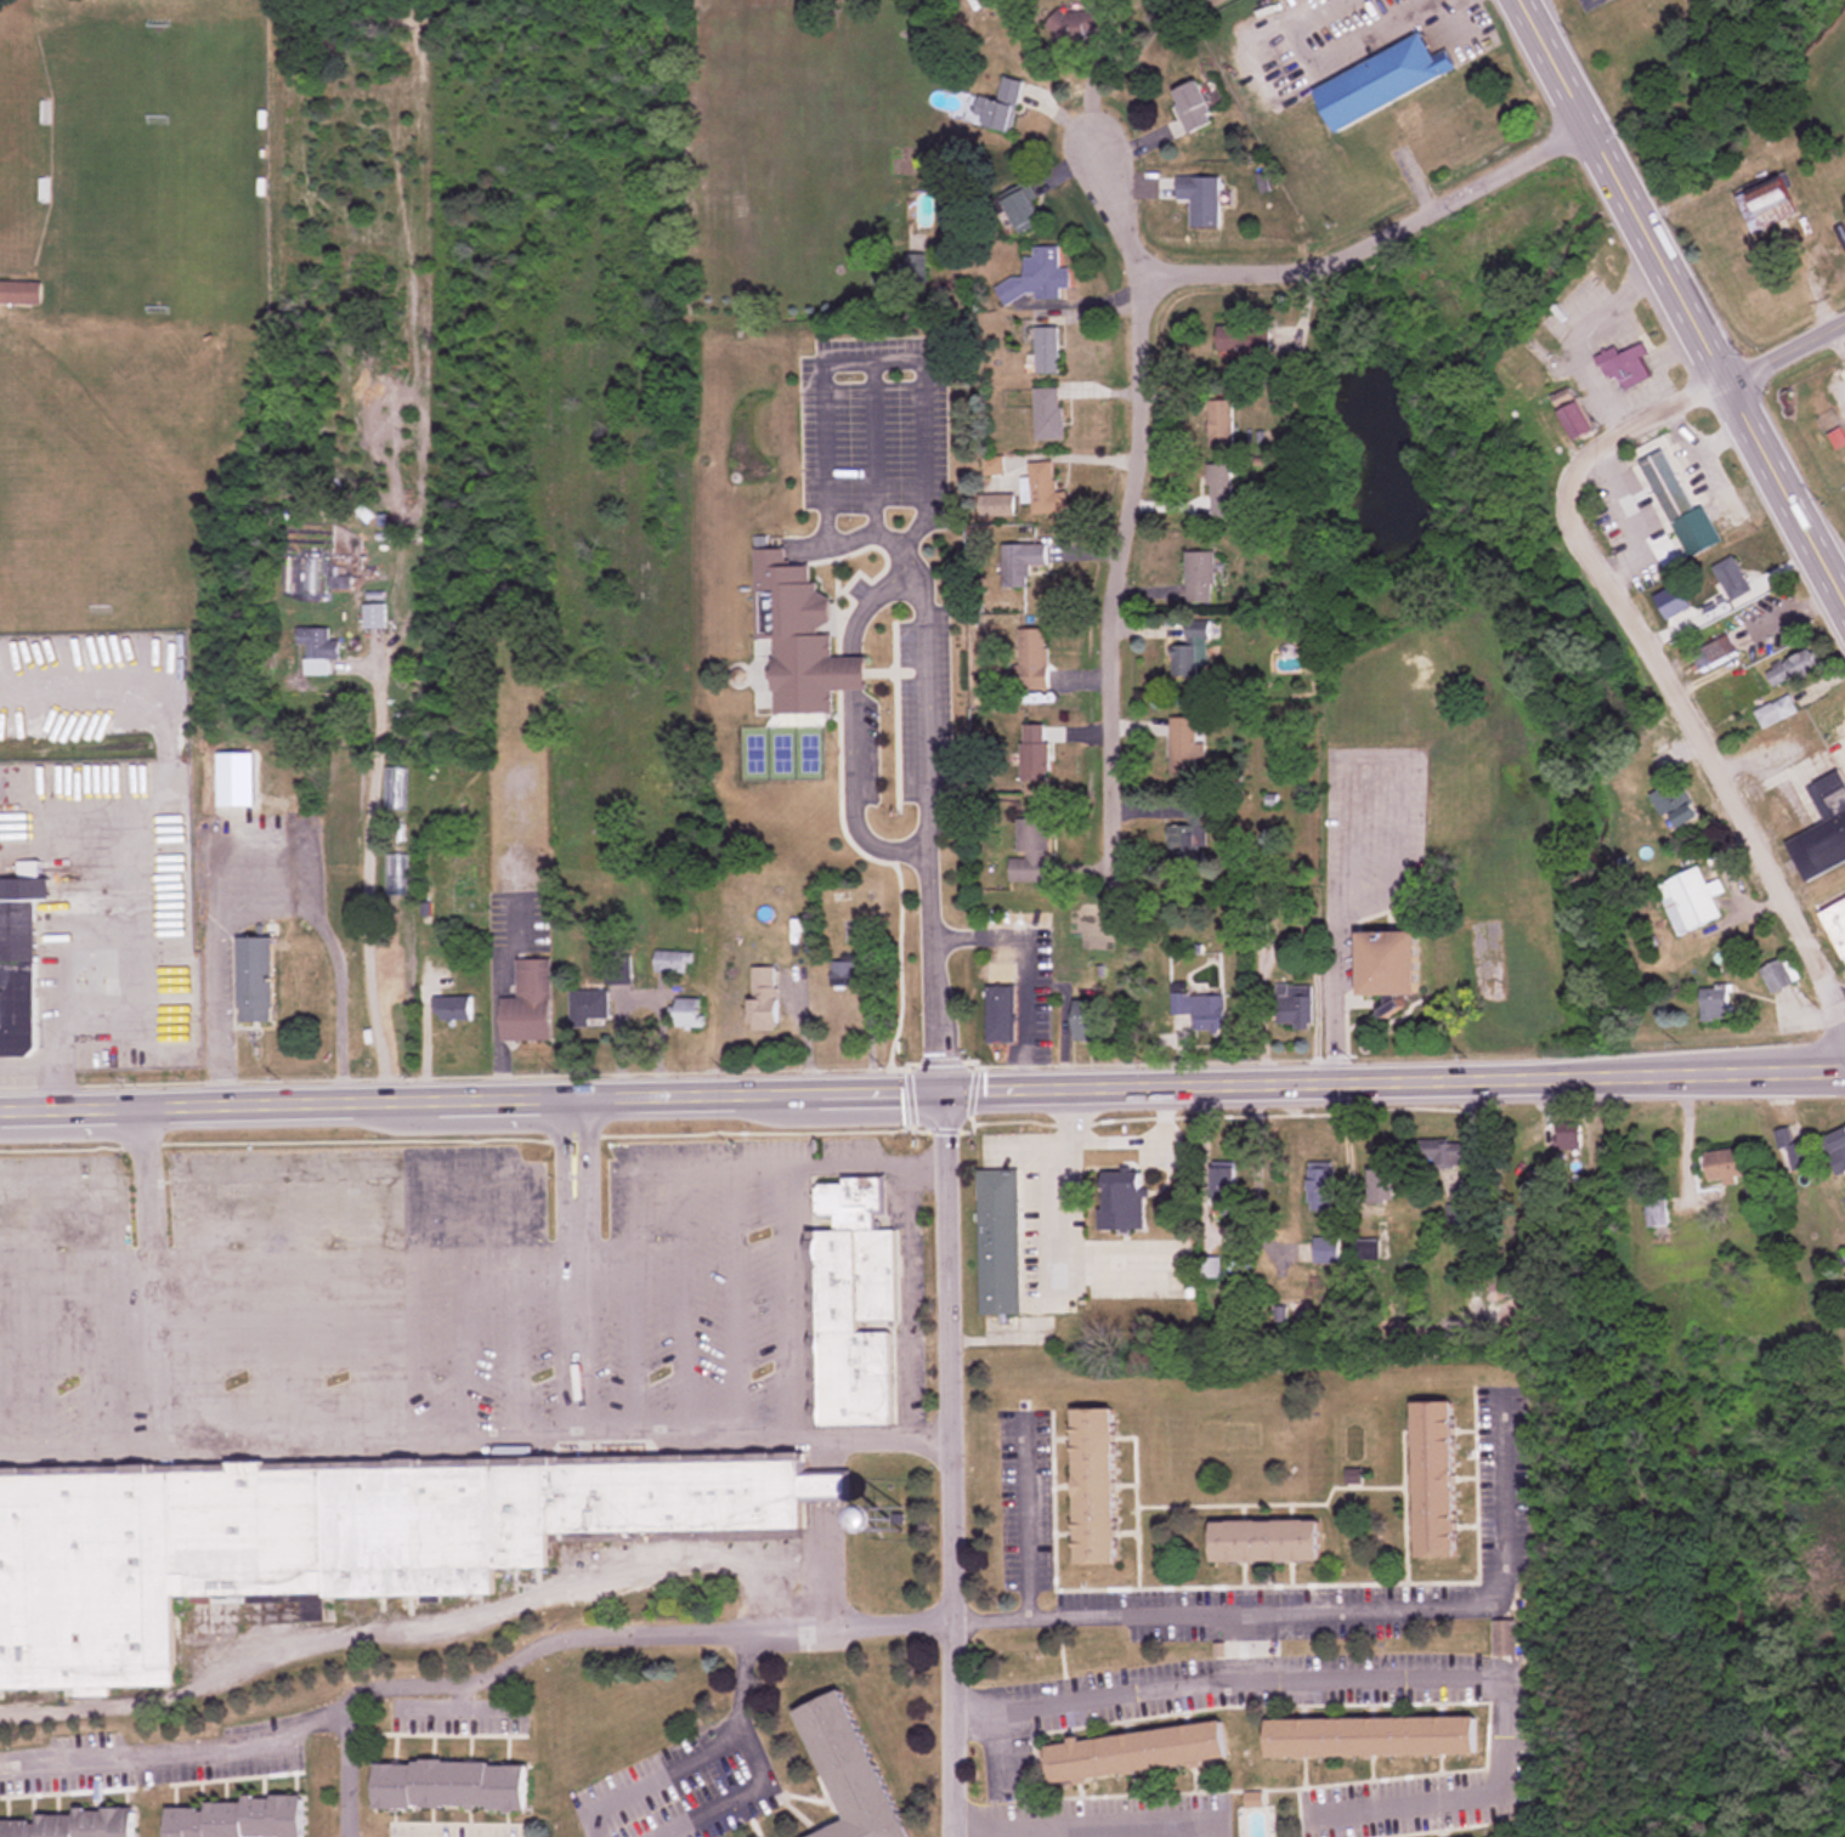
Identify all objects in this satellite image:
building: (1082, 24)
building: (1385, 81)
building: (1002, 106)
building: (1194, 106)
building: (1408, 119)
building: (1202, 198)
building: (1768, 204)
building: (1024, 209)
road: (1376, 238)
building: (913, 262)
building: (1036, 277)
building: (21, 291)
road: (1682, 302)
building: (1244, 340)
road: (1784, 350)
building: (1047, 351)
building: (1625, 365)
building: (1048, 414)
building: (1574, 415)
road: (1653, 420)
building: (1221, 423)
building: (1836, 436)
building: (1221, 481)
building: (1668, 486)
building: (1043, 491)
road: (1130, 506)
building: (1024, 565)
building: (1200, 577)
building: (1732, 579)
building: (339, 583)
building: (373, 616)
building: (799, 637)
building: (316, 645)
building: (1193, 651)
building: (1714, 652)
building: (1031, 659)
building: (1793, 668)
building: (1776, 711)
road: (917, 728)
road: (1691, 742)
building: (1184, 744)
building: (1035, 753)
building: (1676, 809)
road: (849, 810)
building: (1823, 829)
building: (1192, 832)
building: (1029, 851)
road: (377, 854)
building: (1690, 901)
building: (1836, 923)
road: (975, 932)
building: (672, 962)
building: (1392, 963)
building: (617, 969)
building: (844, 974)
building: (1778, 975)
building: (254, 980)
building: (764, 998)
building: (528, 1003)
building: (1295, 1004)
building: (1714, 1004)
road: (1841, 1004)
building: (589, 1008)
building: (453, 1009)
building: (1201, 1009)
building: (689, 1013)
road: (929, 1013)
building: (1000, 1015)
building: (1088, 1021)
road: (45, 1071)
road: (922, 1093)
building: (1569, 1140)
building: (1793, 1150)
building: (1838, 1152)
building: (1444, 1153)
road: (789, 1162)
road: (362, 1167)
building: (1726, 1167)
road: (588, 1174)
road: (561, 1175)
road: (106, 1185)
building: (1383, 1186)
building: (1224, 1187)
building: (1322, 1189)
building: (1122, 1201)
road: (633, 1206)
building: (1540, 1207)
building: (1657, 1214)
building: (1000, 1242)
road: (605, 1248)
building: (1365, 1249)
building: (1326, 1251)
road: (735, 1292)
road: (684, 1293)
road: (794, 1298)
road: (361, 1302)
road: (310, 1303)
road: (260, 1304)
building: (853, 1306)
road: (46, 1311)
road: (634, 1334)
road: (466, 1343)
road: (515, 1343)
road: (414, 1344)
road: (209, 1346)
road: (108, 1349)
road: (678, 1422)
road: (199, 1440)
road: (75, 1441)
road: (949, 1464)
building: (1436, 1480)
building: (1096, 1486)
road: (1025, 1518)
building: (319, 1538)
building: (1267, 1542)
road: (1329, 1611)
road: (411, 1626)
building: (1505, 1637)
road: (743, 1677)
road: (1373, 1677)
road: (476, 1683)
road: (460, 1696)
road: (459, 1707)
building: (1374, 1734)
building: (1138, 1750)
building: (850, 1771)
road: (346, 1773)
road: (653, 1776)
building: (452, 1784)
road: (737, 1797)
building: (234, 1818)
building: (72, 1822)
road: (1082, 1827)

